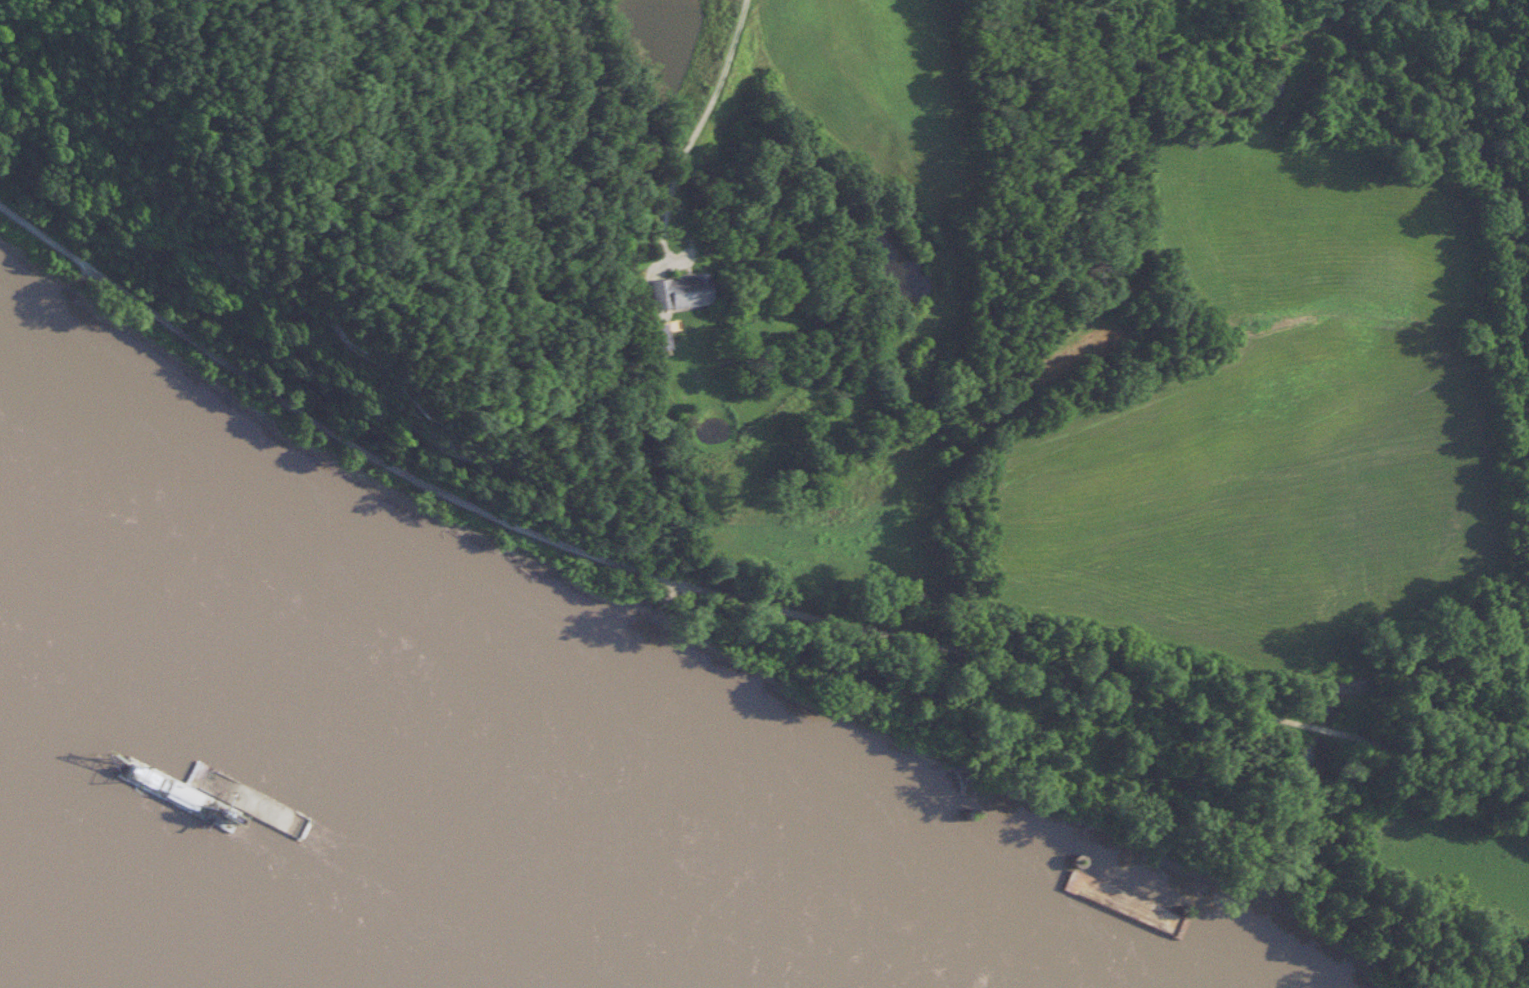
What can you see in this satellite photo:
road: (694, 128)
road: (106, 281)
building: (682, 295)
building: (660, 340)
road: (848, 624)
river: (226, 844)

